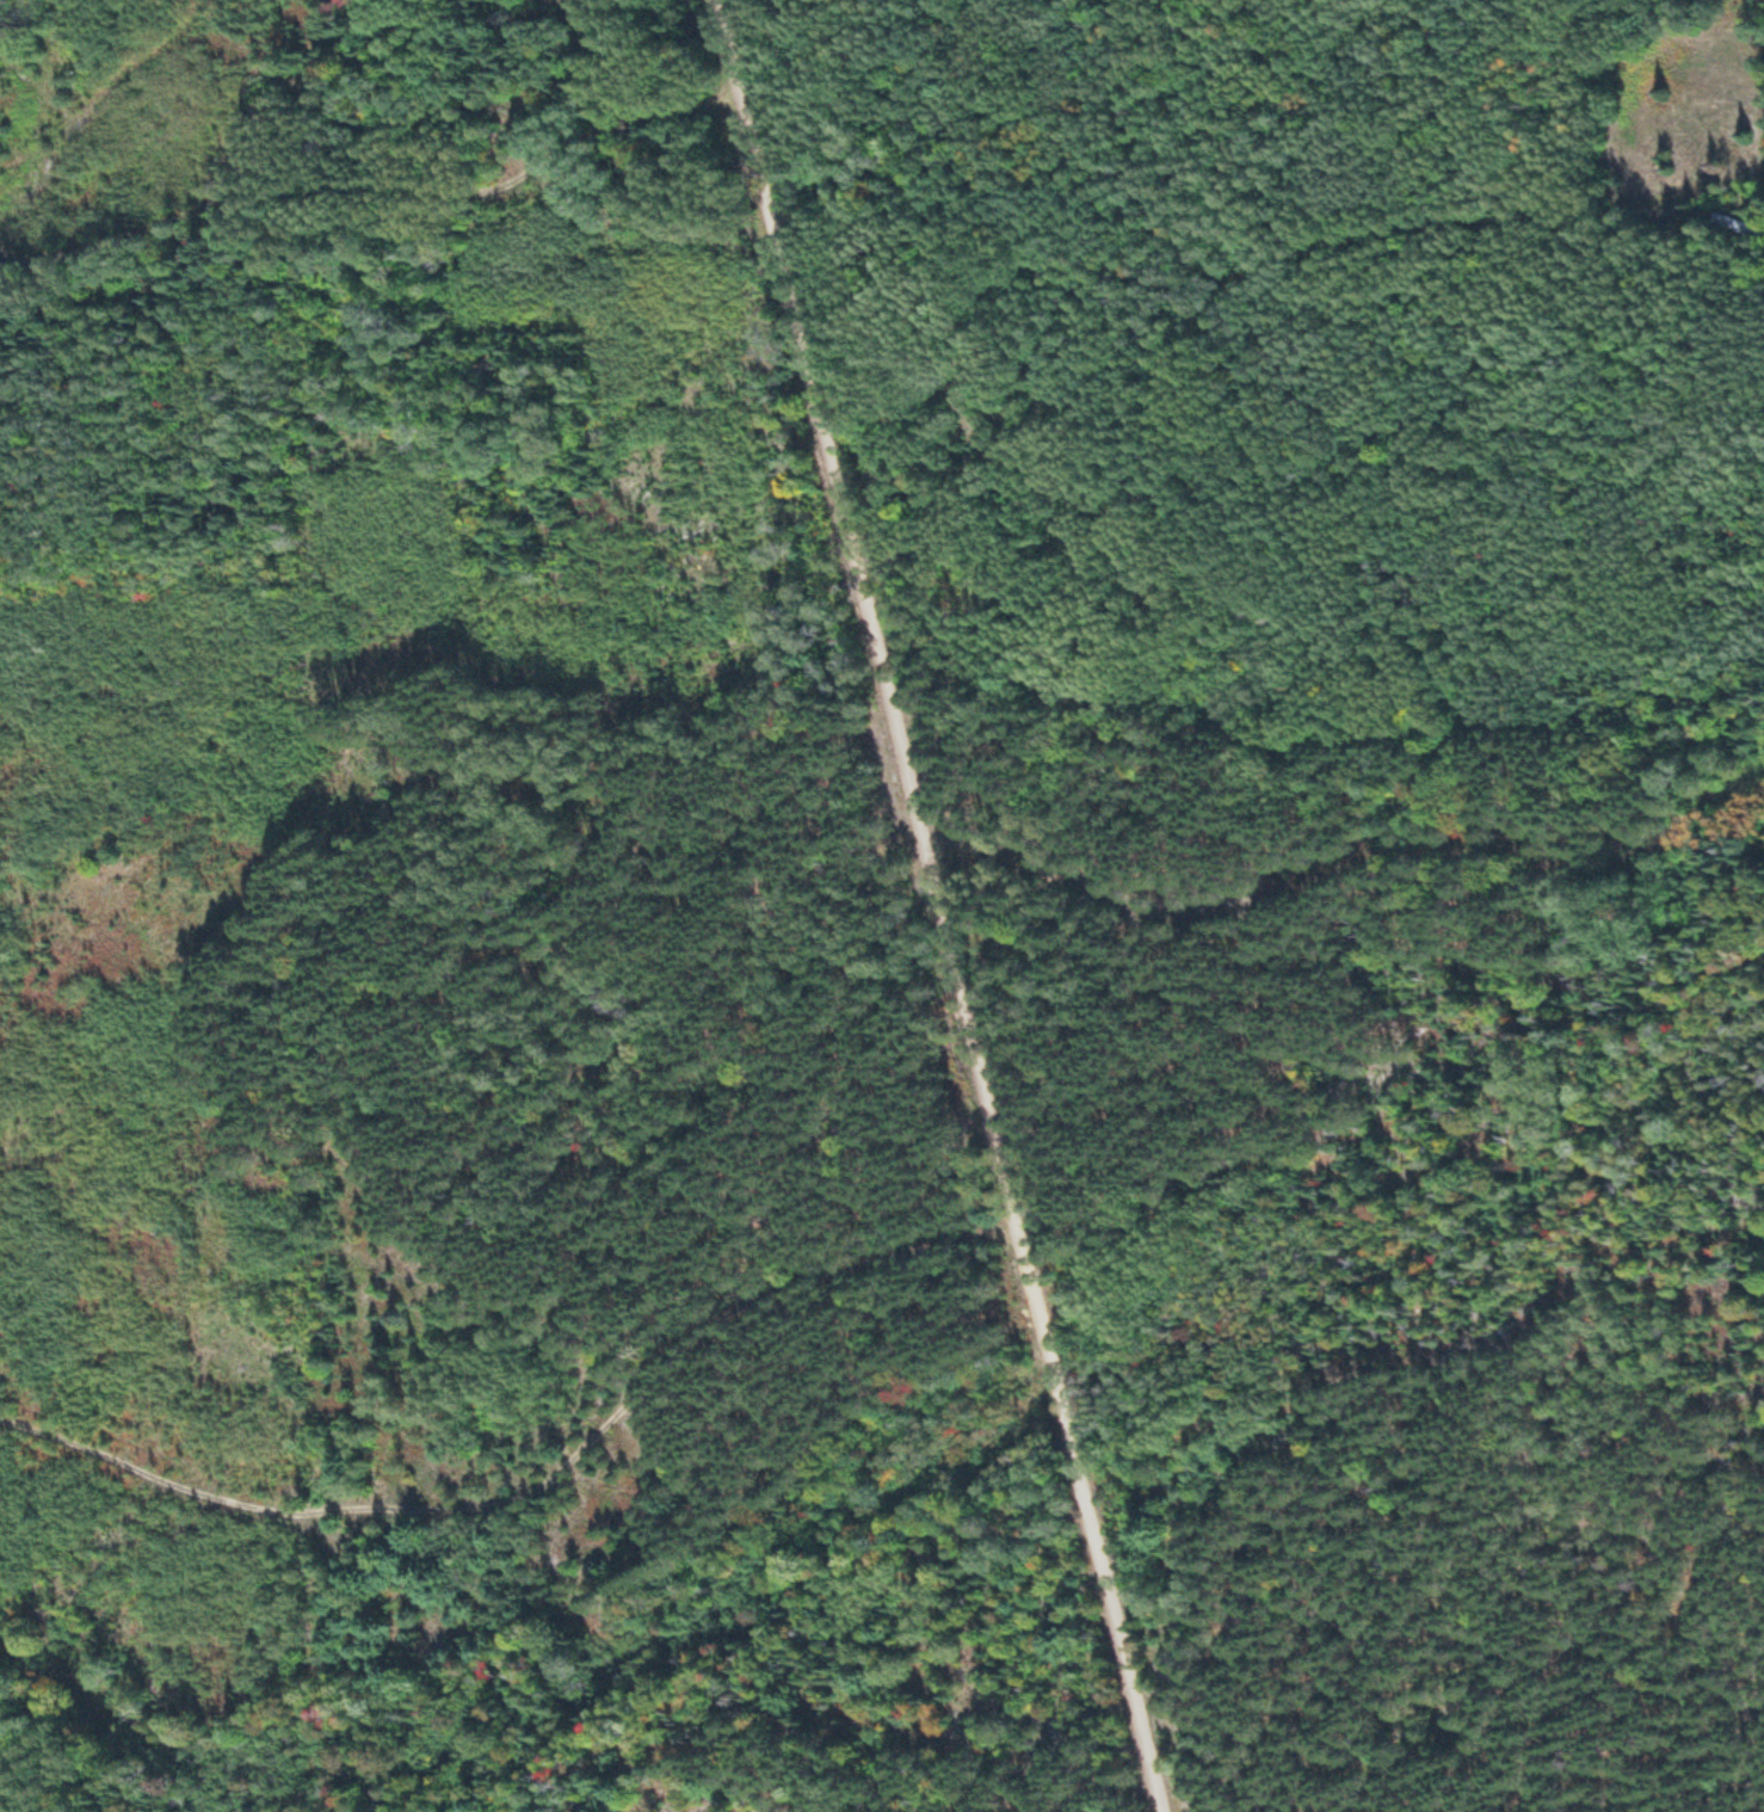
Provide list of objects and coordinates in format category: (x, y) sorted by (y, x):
road: (353, 216)
road: (943, 905)
road: (538, 1473)

